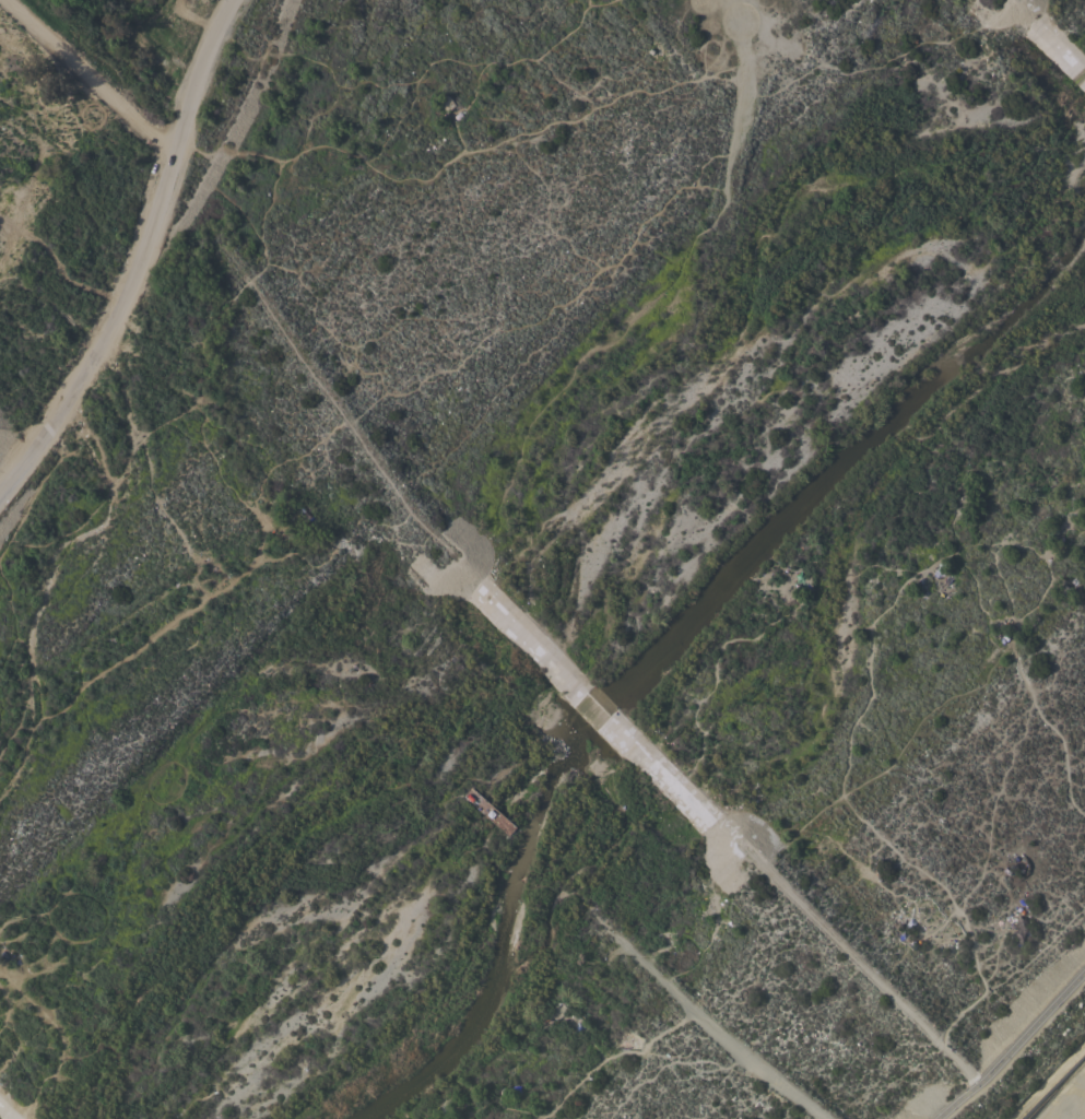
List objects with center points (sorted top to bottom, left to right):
parking lot: (187, 30)
road: (89, 73)
road: (137, 255)
road: (75, 352)
road: (13, 443)
building: (515, 628)
river: (673, 639)
building: (487, 811)
road: (1011, 1046)

